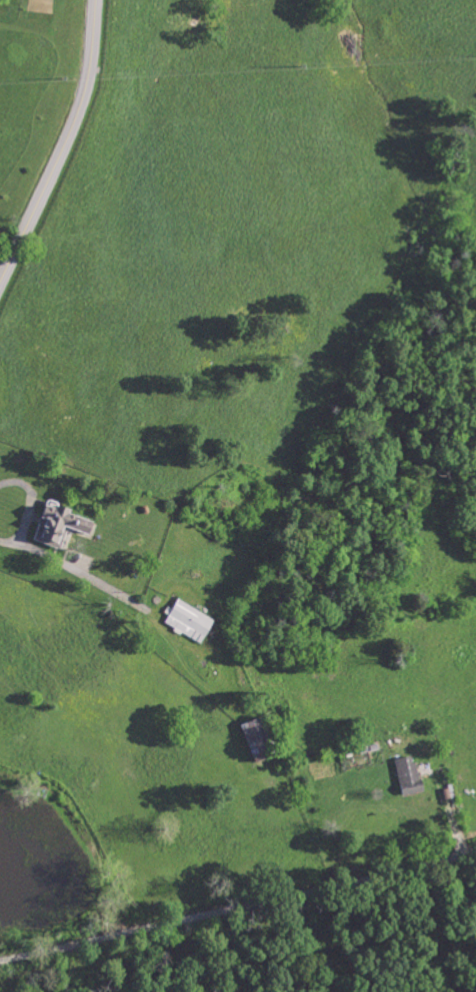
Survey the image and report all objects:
road: (64, 145)
building: (64, 523)
road: (22, 545)
building: (191, 619)
building: (261, 738)
building: (411, 773)
road: (238, 906)

